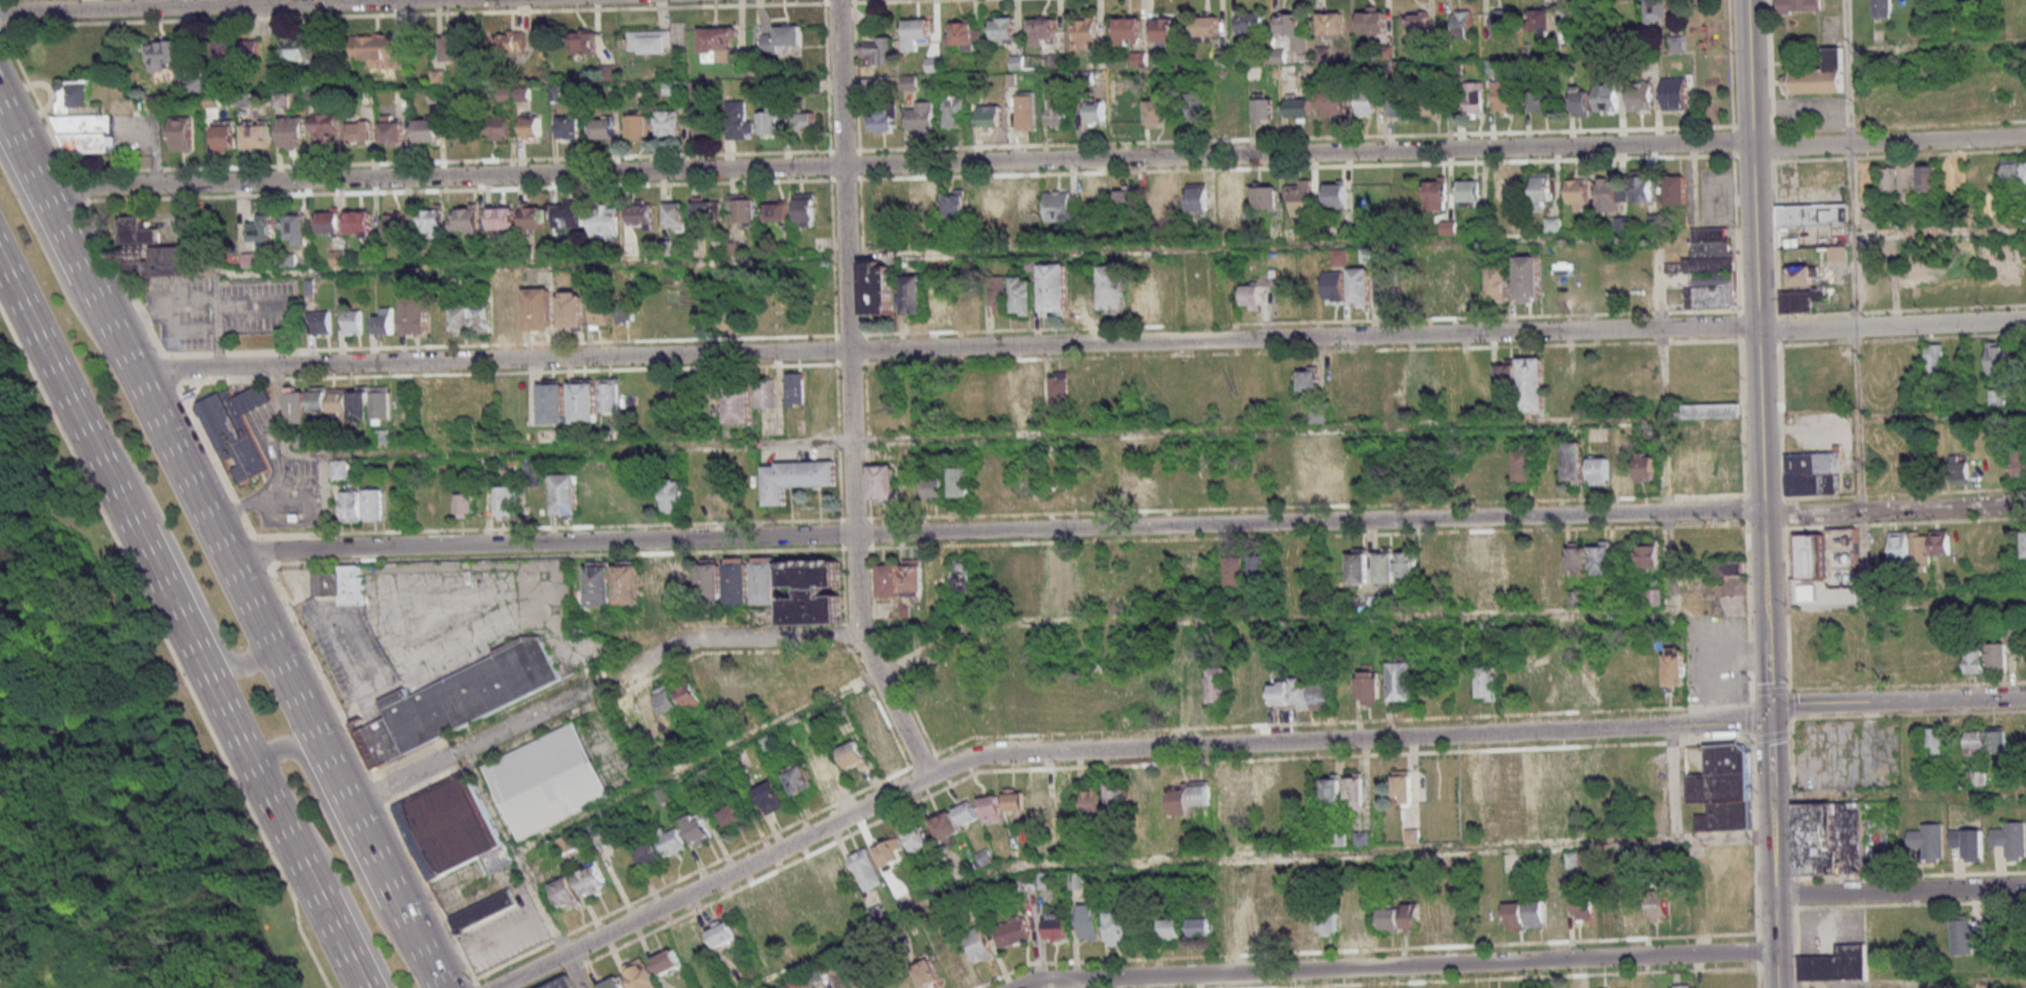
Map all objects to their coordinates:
road: (197, 5)
building: (1800, 5)
building: (1882, 8)
building: (1658, 11)
building: (1415, 21)
building: (1541, 21)
building: (1250, 22)
building: (1331, 23)
building: (1372, 23)
building: (1501, 23)
building: (1463, 24)
building: (1207, 27)
building: (1291, 28)
building: (917, 29)
building: (1164, 29)
building: (1002, 30)
building: (1041, 31)
building: (1129, 31)
road: (1, 33)
building: (965, 33)
building: (1083, 34)
building: (717, 38)
building: (782, 40)
building: (649, 41)
building: (511, 42)
building: (583, 44)
building: (1676, 44)
building: (259, 46)
road: (1936, 46)
building: (453, 47)
building: (300, 48)
building: (376, 51)
building: (877, 51)
building: (163, 54)
building: (1016, 62)
building: (1818, 76)
building: (673, 87)
building: (1674, 93)
building: (1505, 95)
building: (1641, 96)
building: (1606, 97)
building: (1475, 99)
building: (1581, 100)
building: (1539, 101)
building: (1365, 103)
building: (1332, 104)
building: (1195, 105)
building: (1432, 106)
building: (1401, 107)
building: (1228, 108)
building: (1299, 108)
building: (1264, 109)
building: (1024, 110)
building: (1056, 112)
building: (1095, 112)
building: (951, 113)
building: (1157, 113)
building: (1126, 114)
building: (989, 116)
building: (921, 118)
building: (83, 121)
building: (738, 121)
building: (769, 121)
building: (881, 121)
building: (805, 122)
building: (668, 123)
building: (638, 126)
building: (570, 127)
building: (705, 127)
building: (495, 128)
building: (533, 128)
building: (602, 128)
building: (325, 129)
building: (359, 129)
building: (394, 129)
building: (428, 129)
building: (292, 131)
building: (182, 133)
building: (257, 134)
building: (226, 136)
road: (1888, 140)
road: (896, 162)
building: (2012, 171)
building: (2025, 172)
building: (1929, 178)
building: (1900, 182)
building: (1542, 186)
building: (1642, 186)
building: (1503, 187)
building: (1437, 190)
building: (1676, 190)
building: (1469, 192)
road: (82, 193)
building: (1576, 193)
building: (1612, 193)
building: (1336, 194)
building: (1128, 196)
building: (1299, 197)
building: (1097, 198)
building: (1165, 198)
building: (1266, 198)
building: (1232, 199)
building: (1198, 200)
building: (990, 202)
building: (1059, 202)
building: (921, 204)
building: (954, 204)
building: (1027, 204)
building: (806, 209)
building: (745, 212)
building: (775, 212)
building: (704, 214)
building: (674, 215)
building: (569, 216)
building: (640, 216)
building: (533, 217)
building: (503, 218)
building: (1814, 219)
building: (466, 220)
building: (432, 221)
building: (328, 222)
building: (361, 222)
building: (605, 222)
building: (393, 226)
building: (295, 227)
building: (262, 228)
road: (1940, 233)
road: (203, 239)
building: (154, 249)
building: (1833, 253)
road: (933, 255)
building: (1339, 257)
road: (56, 270)
building: (1710, 270)
building: (1801, 275)
building: (1528, 279)
building: (1388, 284)
building: (1445, 284)
building: (1498, 284)
building: (1333, 285)
building: (878, 287)
building: (1360, 287)
building: (1112, 288)
building: (1053, 289)
building: (912, 294)
building: (998, 294)
building: (1023, 295)
building: (1143, 297)
building: (1252, 297)
building: (1085, 298)
building: (1803, 301)
building: (941, 304)
road: (161, 306)
building: (536, 309)
building: (569, 309)
building: (505, 310)
building: (414, 313)
building: (600, 313)
building: (625, 314)
road: (1757, 319)
building: (440, 320)
building: (459, 320)
building: (351, 322)
building: (383, 322)
building: (322, 323)
road: (1891, 324)
road: (215, 333)
road: (1016, 346)
road: (1855, 352)
building: (1996, 358)
building: (1935, 360)
road: (204, 367)
road: (171, 369)
building: (1506, 375)
building: (1308, 378)
building: (1424, 381)
building: (1337, 383)
building: (1532, 383)
building: (1059, 386)
building: (1393, 387)
building: (794, 388)
building: (765, 393)
road: (850, 396)
building: (1997, 397)
building: (329, 400)
building: (551, 403)
building: (582, 403)
building: (370, 404)
building: (297, 405)
building: (737, 406)
building: (1711, 410)
road: (1942, 411)
building: (1343, 413)
building: (1317, 414)
park: (19, 415)
road: (1664, 422)
building: (234, 428)
road: (947, 441)
road: (36, 459)
building: (1573, 461)
building: (1524, 463)
building: (1622, 463)
building: (2019, 463)
building: (1646, 468)
building: (1503, 469)
building: (1599, 470)
building: (339, 471)
building: (1305, 472)
building: (1960, 472)
building: (1814, 473)
building: (1708, 474)
building: (794, 478)
building: (1333, 478)
building: (961, 481)
building: (1131, 481)
building: (882, 483)
building: (935, 485)
building: (567, 494)
building: (719, 494)
road: (1782, 494)
building: (671, 497)
building: (507, 502)
building: (381, 504)
building: (350, 505)
building: (466, 505)
road: (1894, 507)
road: (135, 531)
road: (993, 531)
road: (220, 545)
building: (2024, 545)
building: (1899, 546)
building: (1928, 546)
building: (1649, 554)
building: (1578, 556)
building: (1811, 556)
building: (1600, 557)
building: (1479, 558)
road: (179, 562)
building: (1553, 563)
building: (1260, 565)
building: (1385, 565)
building: (1358, 566)
building: (1733, 568)
building: (1012, 569)
building: (1407, 569)
building: (1059, 570)
building: (1236, 570)
building: (1039, 573)
building: (963, 575)
building: (765, 580)
building: (900, 580)
building: (738, 581)
building: (341, 583)
building: (669, 583)
building: (599, 585)
building: (812, 592)
building: (1653, 597)
road: (1944, 599)
road: (1065, 620)
building: (2013, 632)
road: (726, 638)
road: (169, 648)
building: (1997, 657)
building: (1910, 661)
building: (1932, 661)
building: (1973, 661)
building: (1675, 667)
building: (1591, 672)
road: (1767, 675)
building: (1402, 679)
building: (1571, 681)
building: (705, 682)
building: (1488, 683)
building: (1219, 684)
road: (329, 685)
building: (730, 686)
building: (1198, 686)
building: (1370, 687)
building: (1157, 688)
building: (1261, 689)
building: (1468, 689)
building: (688, 693)
building: (1013, 693)
building: (1043, 695)
building: (1323, 695)
building: (992, 701)
building: (455, 702)
road: (1897, 704)
building: (657, 708)
building: (957, 709)
traffic signals: (1769, 711)
building: (937, 718)
building: (809, 725)
building: (1935, 738)
building: (1998, 738)
building: (1975, 742)
building: (880, 744)
road: (462, 749)
road: (1145, 749)
road: (1770, 749)
building: (853, 756)
building: (821, 767)
park: (108, 771)
building: (798, 779)
building: (544, 781)
building: (1531, 781)
building: (1405, 785)
building: (738, 788)
building: (1357, 788)
building: (1332, 789)
building: (1723, 789)
building: (1201, 793)
road: (1898, 794)
building: (770, 797)
building: (1242, 798)
building: (1015, 799)
building: (1118, 799)
building: (1140, 799)
building: (1180, 799)
building: (1092, 800)
building: (1037, 802)
building: (991, 808)
building: (967, 813)
building: (732, 815)
building: (945, 825)
road: (333, 826)
building: (451, 828)
building: (698, 828)
road: (1674, 829)
building: (1830, 836)
building: (1365, 837)
building: (2011, 839)
building: (917, 840)
building: (671, 841)
building: (1929, 841)
building: (1968, 843)
building: (890, 853)
building: (650, 854)
road: (1201, 857)
building: (621, 863)
road: (522, 868)
building: (866, 870)
building: (833, 877)
building: (581, 885)
road: (1773, 887)
road: (342, 889)
road: (1900, 891)
road: (316, 895)
building: (1660, 905)
building: (778, 907)
building: (1582, 908)
building: (1606, 908)
building: (484, 912)
building: (1556, 912)
building: (1535, 913)
building: (1515, 915)
building: (1412, 916)
building: (1459, 916)
building: (1432, 917)
building: (1391, 919)
building: (1089, 921)
building: (1350, 921)
building: (1246, 923)
building: (1266, 924)
building: (1309, 924)
building: (1329, 925)
building: (1055, 926)
building: (1201, 926)
building: (1117, 928)
building: (1171, 928)
building: (1013, 931)
building: (721, 933)
building: (1965, 935)
building: (977, 945)
building: (668, 961)
building: (1836, 962)
building: (954, 964)
road: (1396, 966)
road: (529, 971)
building: (641, 974)
building: (927, 974)
road: (1515, 978)
building: (612, 982)
building: (566, 983)
building: (798, 983)
road: (1901, 984)
road: (1, 986)
building: (1683, 986)

